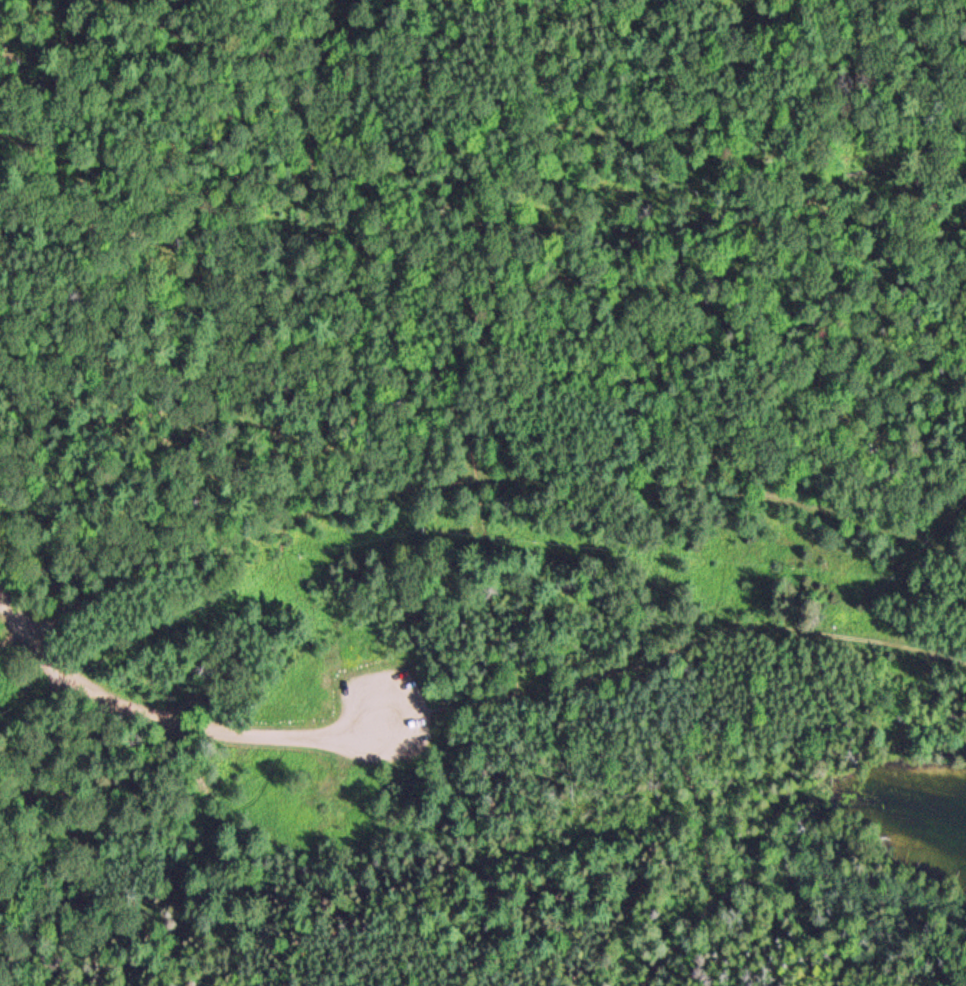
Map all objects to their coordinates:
road: (798, 631)
road: (651, 683)
parking lot: (382, 715)
road: (188, 725)
road: (676, 948)

